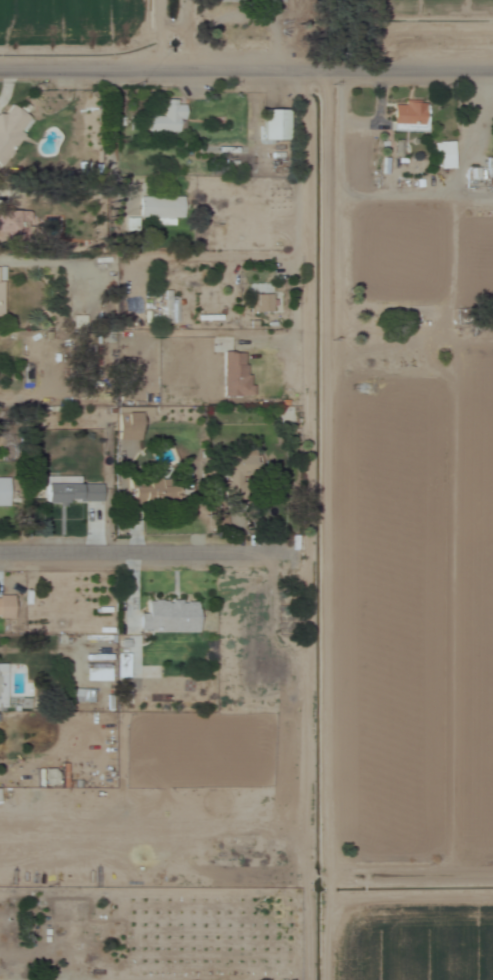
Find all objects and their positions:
building: (247, 1)
crop: (74, 22)
road: (246, 78)
building: (407, 116)
building: (165, 120)
building: (272, 126)
building: (10, 131)
building: (442, 155)
building: (489, 168)
building: (158, 208)
building: (11, 221)
building: (1, 292)
building: (257, 303)
building: (165, 307)
building: (124, 426)
building: (237, 474)
building: (58, 490)
building: (3, 492)
building: (147, 492)
road: (141, 556)
building: (5, 607)
building: (167, 617)
building: (2, 686)
building: (75, 696)
building: (63, 934)

